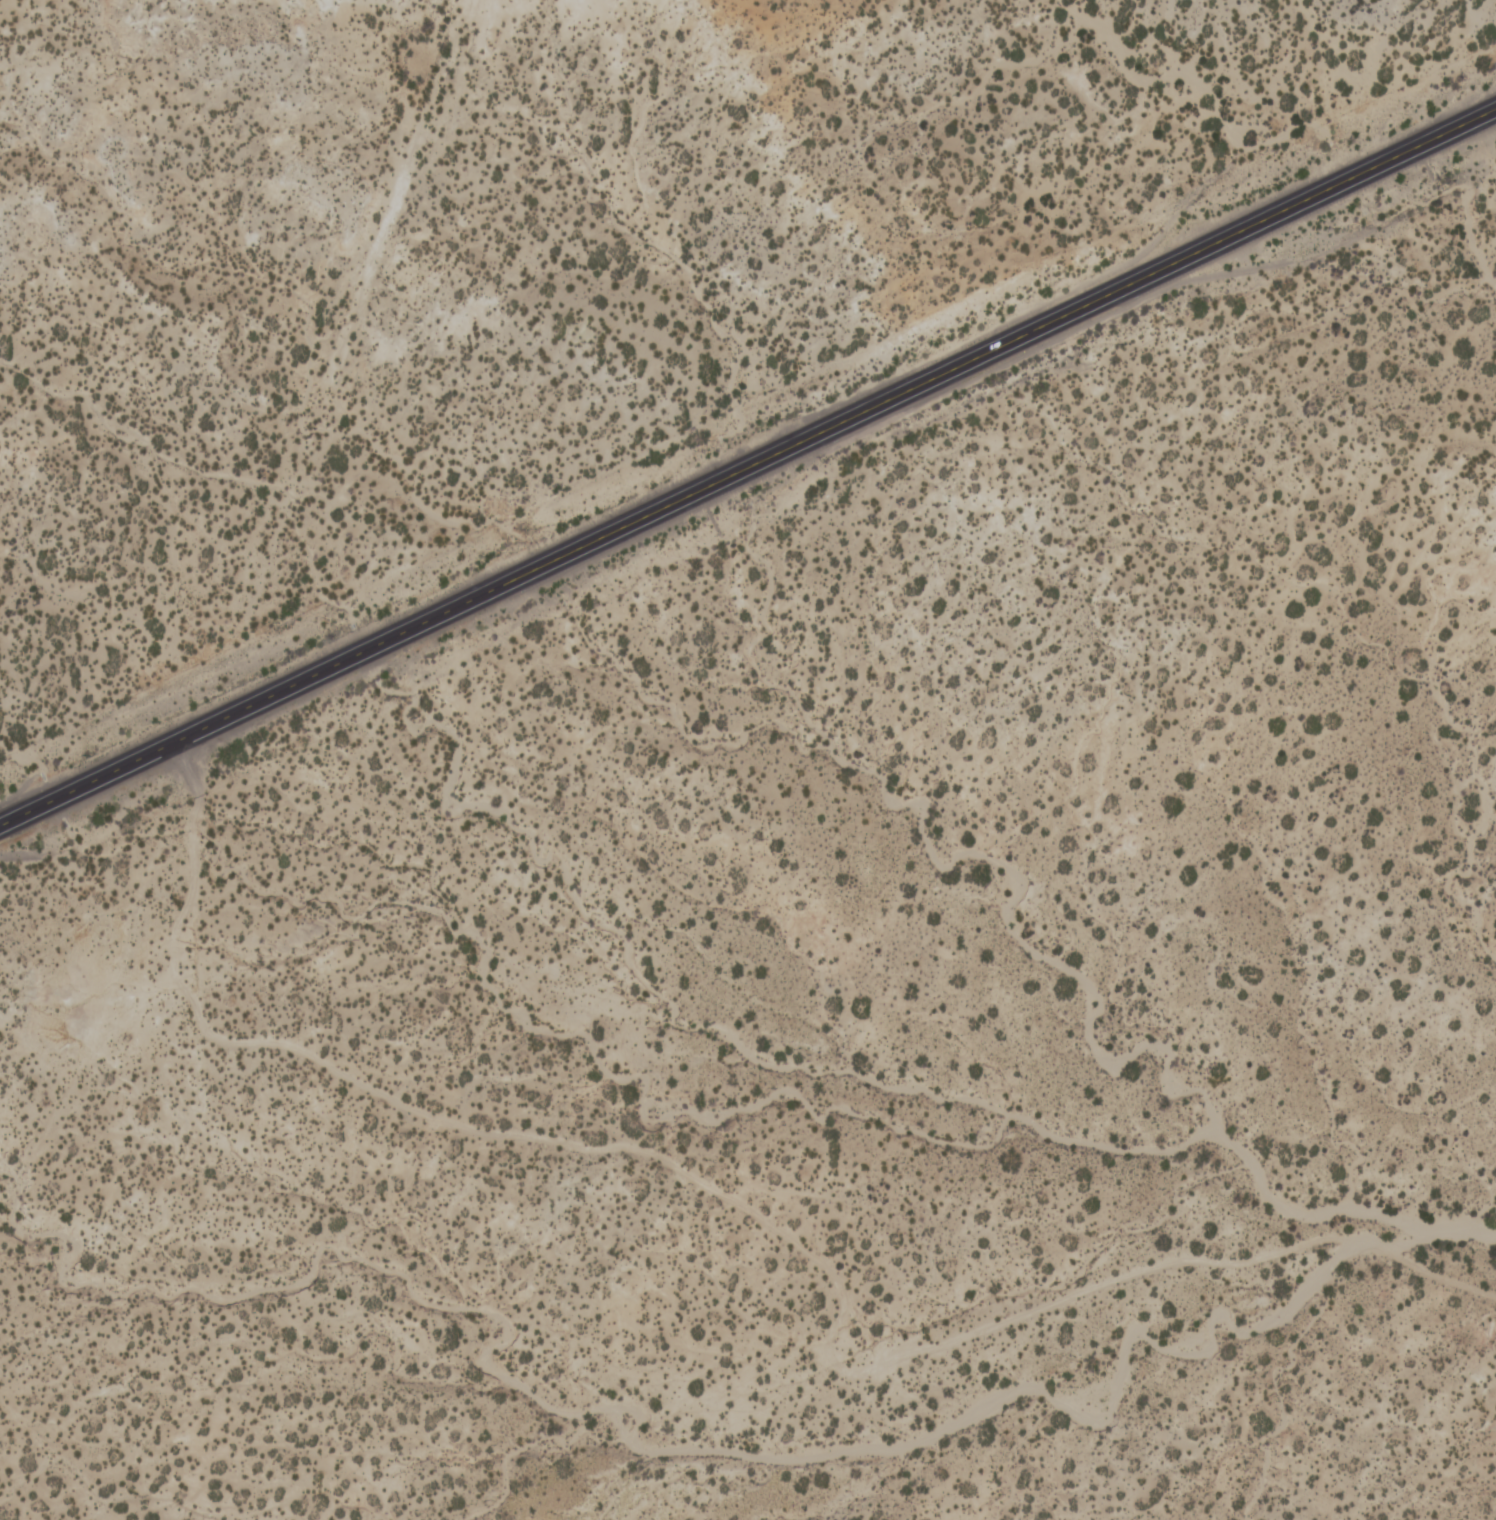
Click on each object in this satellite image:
road: (747, 463)

